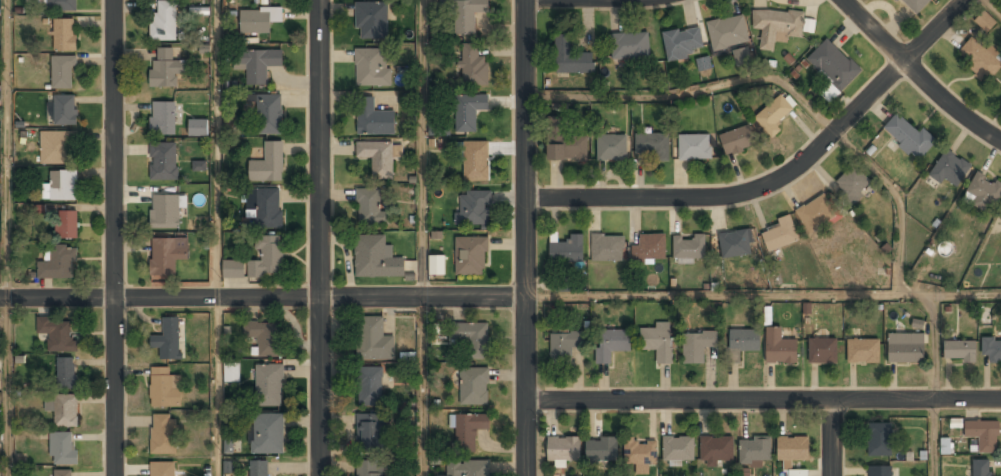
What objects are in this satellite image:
building: (895, 0)
building: (59, 5)
building: (914, 6)
road: (993, 6)
building: (468, 15)
building: (984, 20)
building: (258, 21)
building: (372, 21)
building: (164, 22)
building: (777, 27)
building: (727, 33)
building: (64, 35)
building: (682, 43)
building: (630, 46)
building: (741, 56)
building: (571, 58)
building: (981, 59)
building: (703, 63)
building: (257, 64)
building: (473, 66)
building: (372, 67)
building: (834, 67)
building: (166, 69)
building: (63, 73)
road: (918, 75)
road: (781, 82)
building: (469, 109)
building: (65, 110)
building: (269, 115)
building: (774, 115)
building: (163, 119)
building: (373, 119)
building: (198, 128)
building: (908, 137)
building: (737, 139)
building: (652, 146)
building: (694, 147)
building: (56, 148)
building: (567, 148)
building: (612, 148)
building: (377, 158)
building: (164, 162)
building: (475, 162)
building: (268, 164)
building: (199, 165)
building: (951, 170)
road: (777, 177)
building: (853, 185)
building: (61, 186)
building: (984, 190)
building: (369, 206)
building: (265, 207)
building: (473, 209)
building: (165, 212)
building: (817, 212)
building: (1000, 214)
building: (67, 225)
building: (779, 235)
road: (216, 237)
road: (524, 237)
road: (8, 238)
road: (112, 238)
road: (319, 238)
road: (422, 238)
building: (735, 244)
building: (649, 248)
building: (689, 248)
building: (565, 249)
building: (607, 249)
building: (166, 256)
building: (471, 256)
building: (267, 258)
building: (376, 258)
building: (58, 264)
building: (437, 266)
building: (233, 269)
road: (762, 295)
road: (262, 298)
building: (58, 335)
building: (264, 338)
building: (473, 338)
building: (168, 340)
building: (373, 340)
building: (744, 341)
building: (658, 342)
building: (611, 344)
building: (562, 346)
building: (697, 347)
building: (780, 347)
building: (906, 348)
building: (991, 349)
building: (823, 350)
building: (863, 350)
building: (959, 351)
building: (231, 371)
building: (65, 374)
building: (0, 380)
building: (473, 385)
building: (269, 386)
road: (936, 386)
building: (370, 387)
building: (165, 388)
road: (763, 401)
building: (64, 410)
building: (468, 431)
building: (370, 432)
building: (163, 434)
building: (267, 434)
building: (984, 435)
road: (833, 438)
building: (880, 439)
building: (228, 445)
building: (947, 445)
building: (62, 448)
building: (564, 449)
building: (678, 449)
building: (792, 449)
building: (602, 450)
building: (716, 450)
building: (755, 451)
building: (640, 455)
building: (259, 468)
building: (369, 468)
building: (468, 468)
building: (981, 468)
building: (163, 469)
building: (744, 471)
building: (880, 471)
building: (66, 473)
building: (798, 473)

